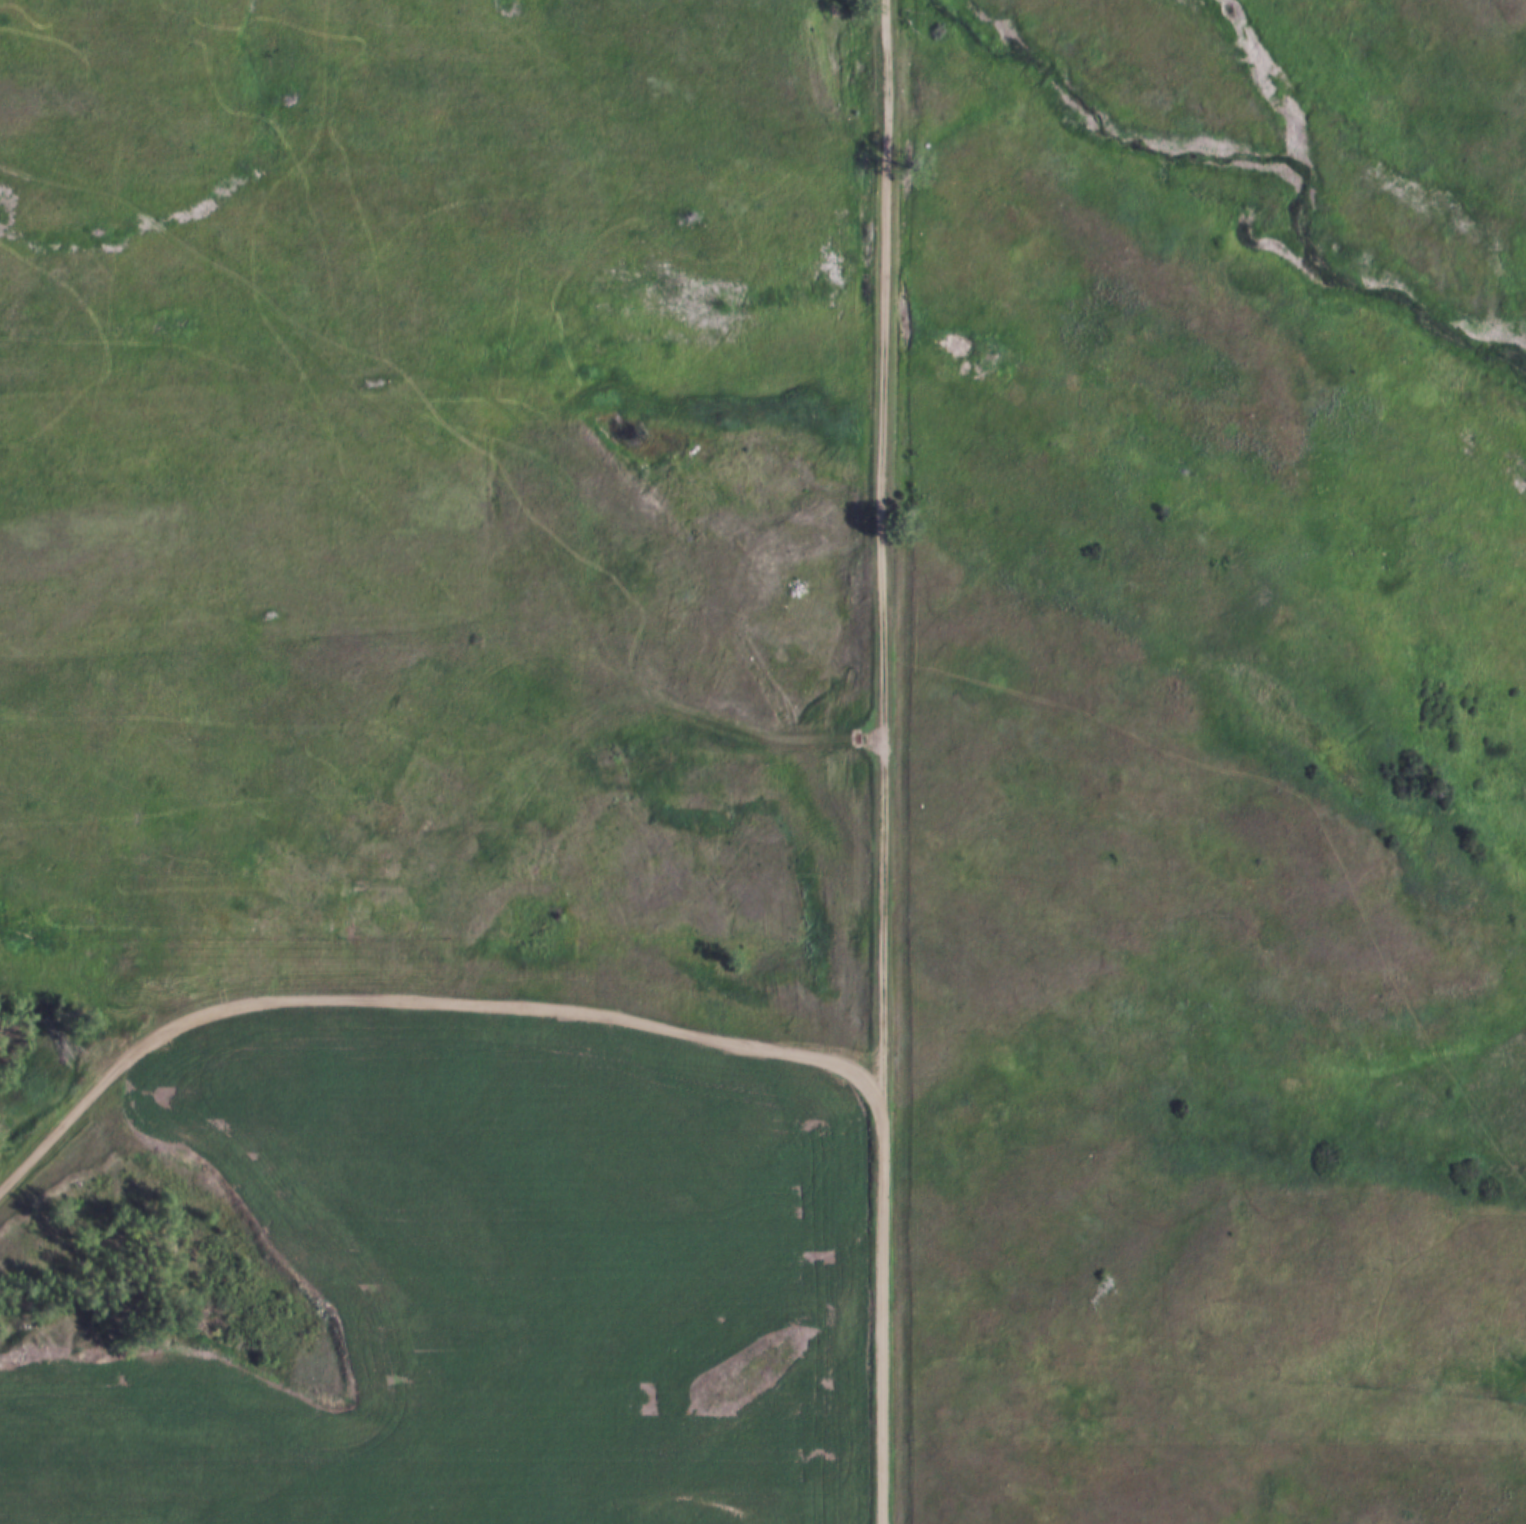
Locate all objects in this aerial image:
river: (1240, 188)
road: (959, 336)
road: (881, 551)
road: (756, 734)
road: (416, 1000)
quarry: (51, 1154)
road: (881, 1313)

